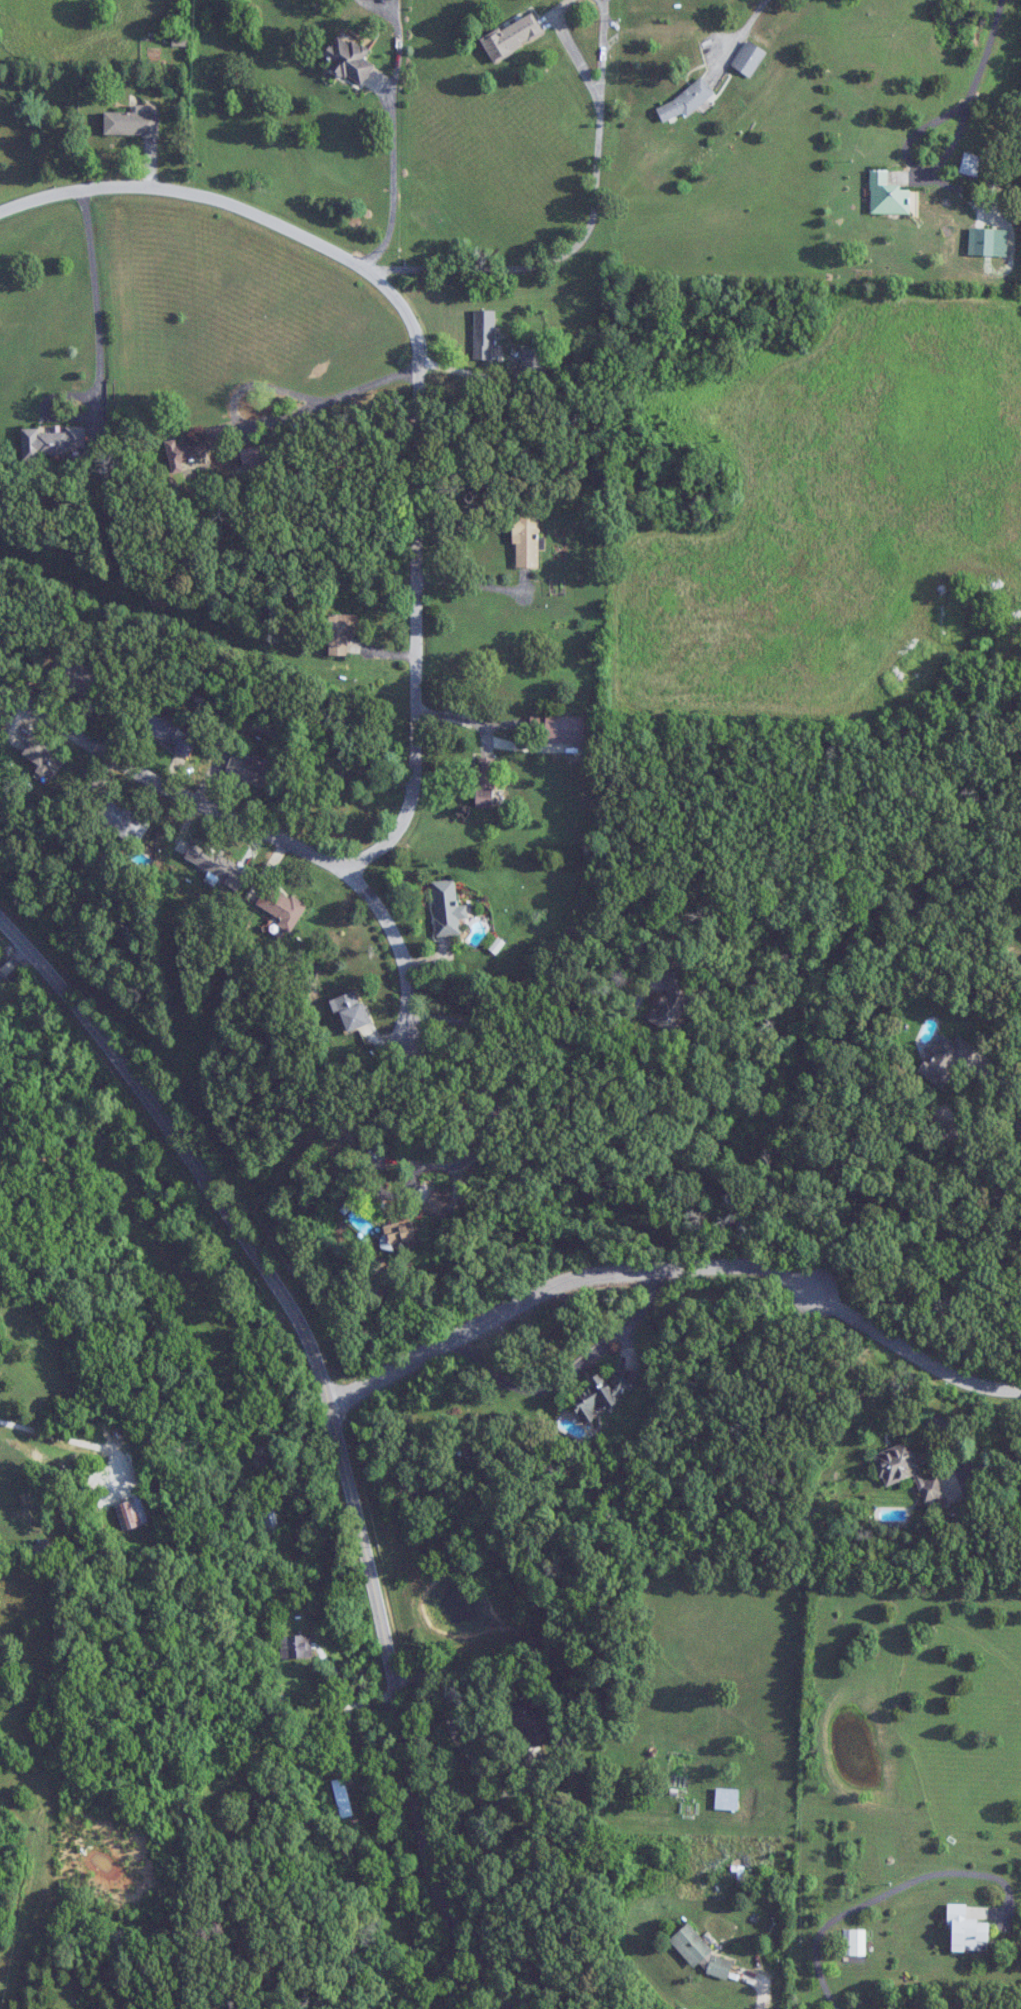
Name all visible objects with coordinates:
road: (742, 31)
building: (514, 36)
building: (749, 58)
building: (348, 59)
road: (981, 79)
building: (685, 101)
building: (131, 123)
building: (971, 164)
road: (389, 181)
building: (887, 194)
road: (585, 230)
building: (981, 241)
road: (92, 305)
building: (483, 335)
building: (533, 360)
road: (470, 371)
road: (421, 376)
road: (329, 396)
building: (54, 441)
building: (193, 448)
building: (257, 453)
building: (526, 542)
building: (0, 601)
building: (341, 632)
building: (167, 733)
building: (248, 768)
building: (485, 781)
building: (123, 819)
road: (251, 824)
building: (209, 861)
building: (277, 904)
building: (447, 909)
building: (671, 1000)
building: (352, 1015)
road: (596, 1036)
building: (945, 1060)
road: (1000, 1091)
road: (462, 1158)
building: (437, 1202)
building: (401, 1238)
road: (683, 1251)
building: (601, 1393)
road: (346, 1430)
road: (990, 1463)
building: (905, 1471)
building: (132, 1514)
building: (269, 1522)
building: (42, 1547)
building: (296, 1646)
building: (528, 1721)
road: (472, 1760)
building: (342, 1798)
building: (726, 1799)
road: (864, 1903)
building: (965, 1930)
building: (854, 1945)
building: (699, 1951)
road: (760, 1996)

